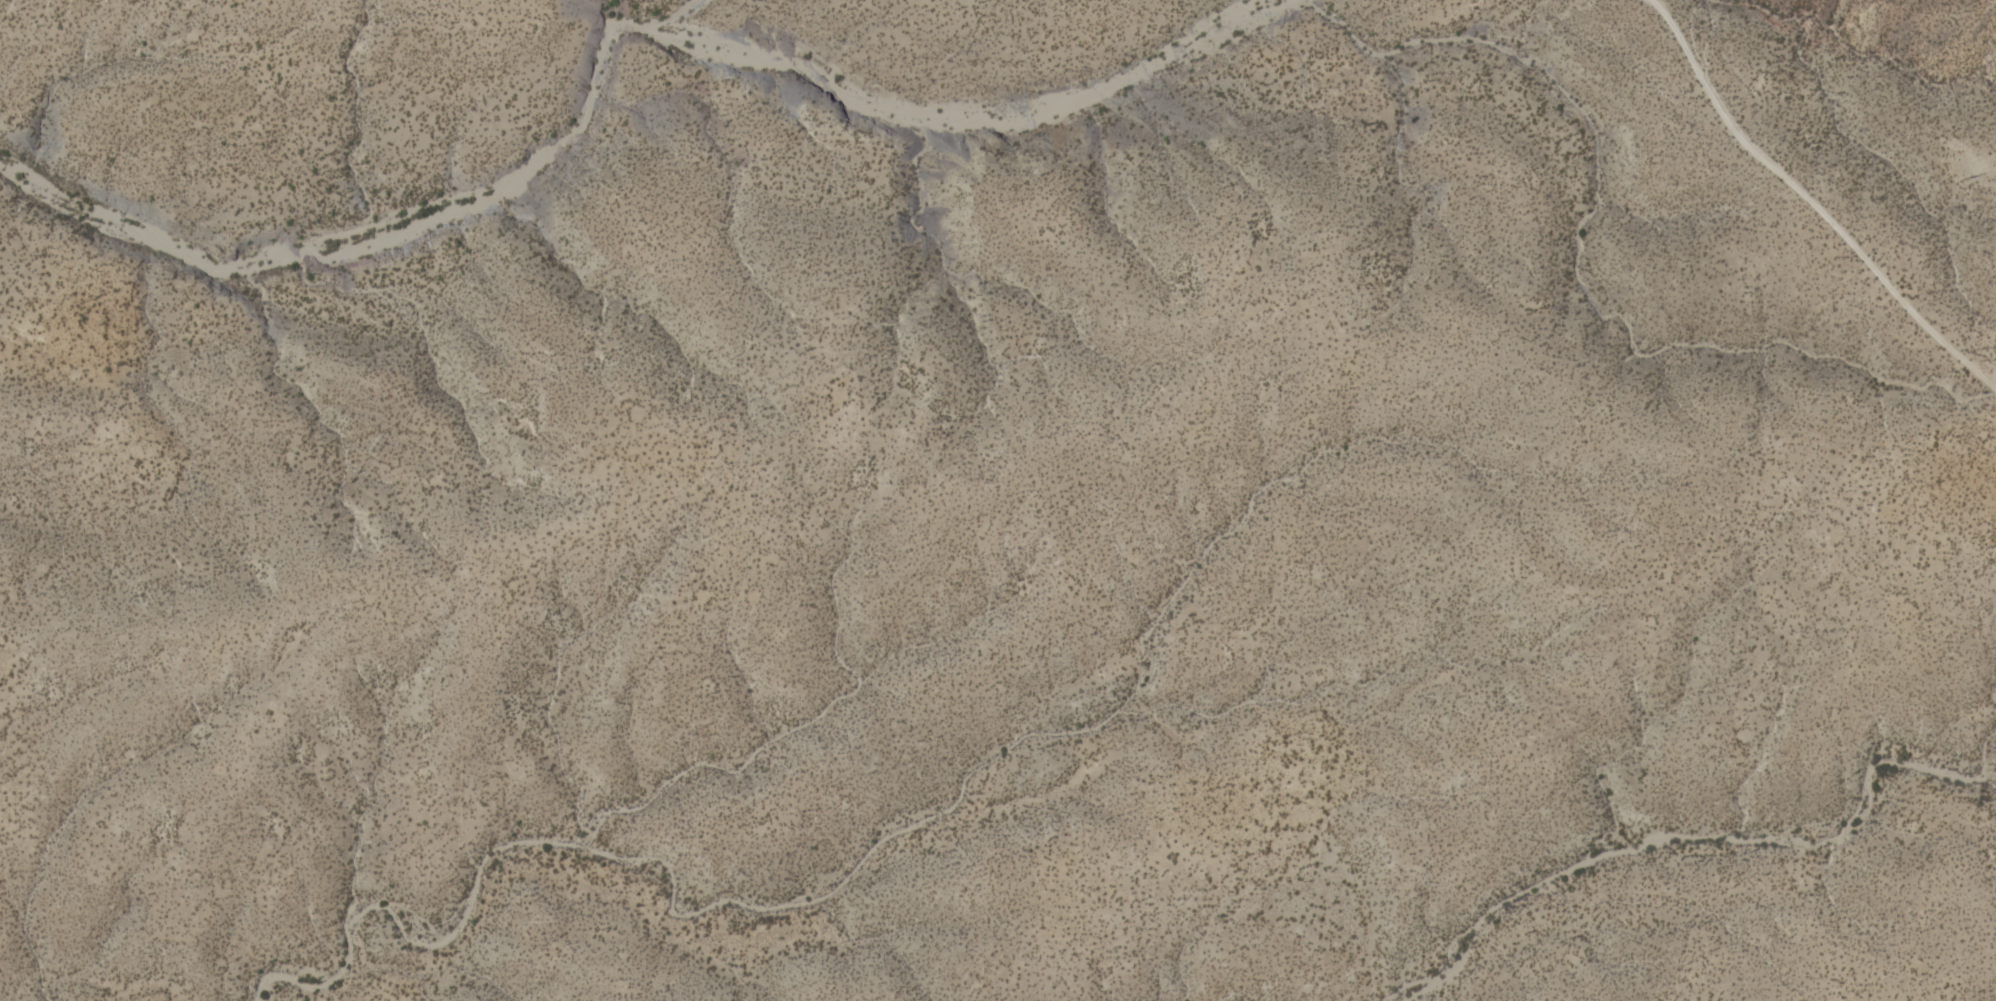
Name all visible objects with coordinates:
power tower: (1967, 180)
road: (1809, 203)

